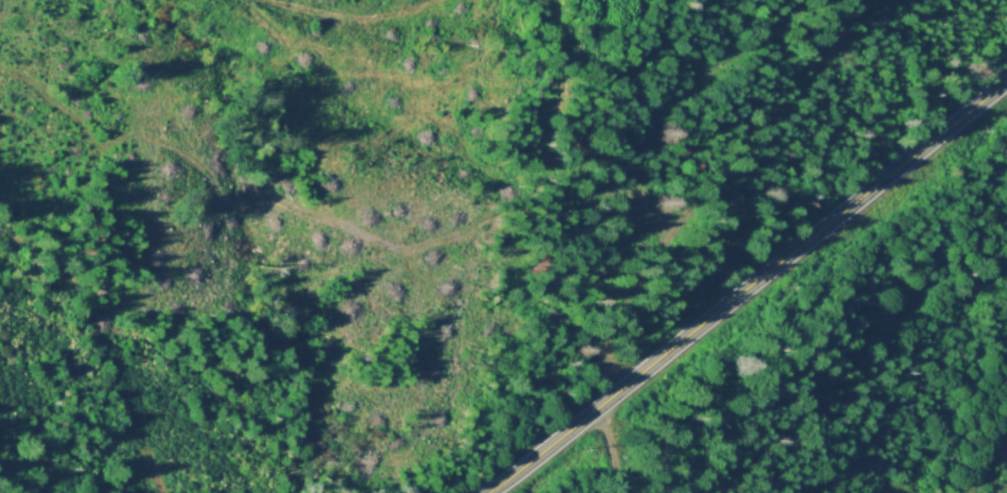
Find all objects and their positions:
road: (674, 213)
road: (747, 286)
road: (103, 345)
road: (609, 449)

